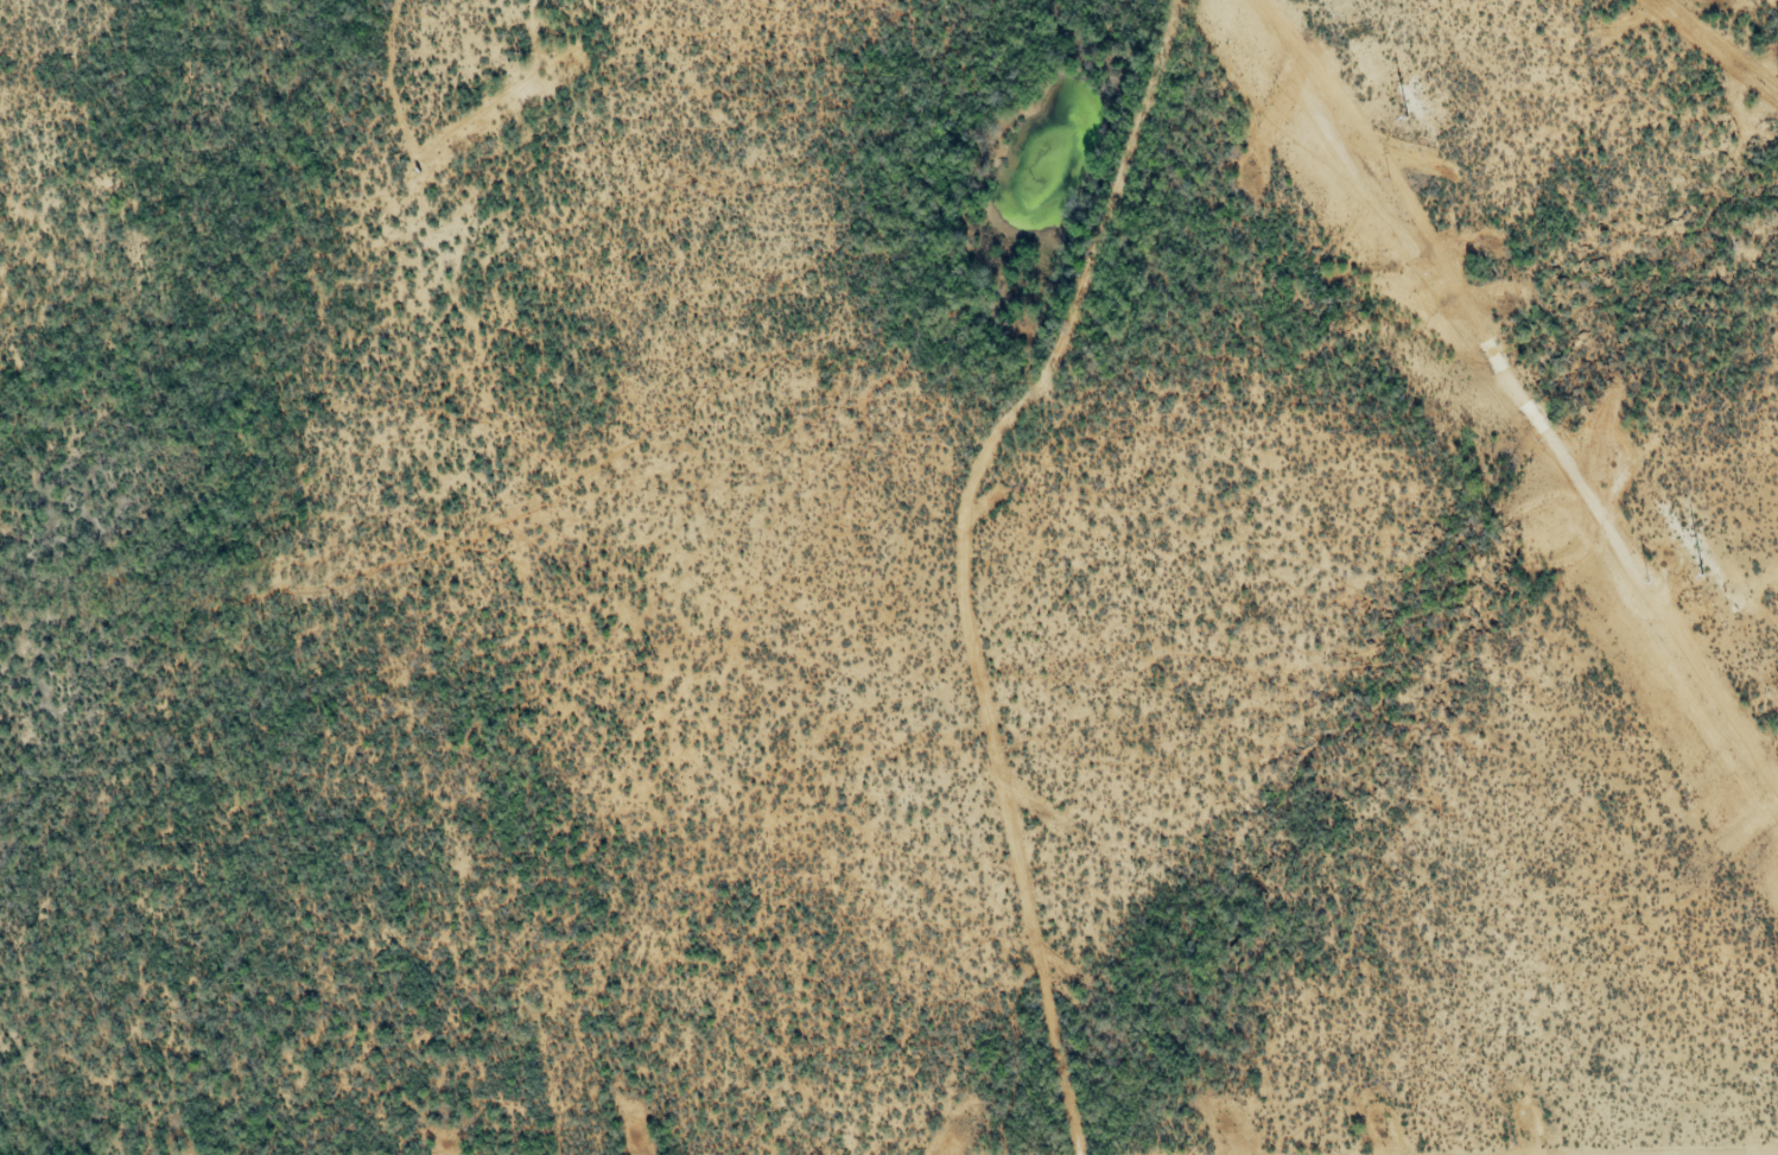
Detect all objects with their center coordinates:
power tower: (1406, 118)
power tower: (1388, 176)
power tower: (1702, 573)
power tower: (1647, 580)

